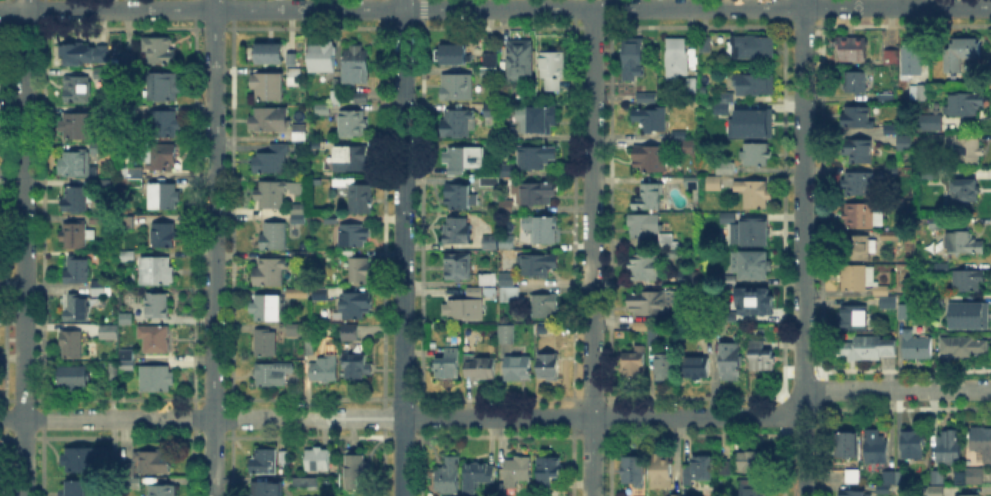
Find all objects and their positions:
road: (403, 4)
road: (743, 8)
road: (201, 9)
road: (449, 9)
building: (705, 43)
building: (753, 49)
building: (853, 50)
building: (158, 51)
building: (83, 54)
building: (961, 54)
building: (270, 55)
building: (454, 56)
building: (677, 57)
building: (292, 58)
building: (322, 58)
building: (491, 58)
building: (632, 58)
building: (519, 59)
building: (128, 60)
building: (892, 61)
building: (912, 61)
building: (359, 62)
building: (553, 71)
building: (488, 72)
building: (102, 76)
building: (294, 76)
building: (690, 83)
building: (856, 83)
building: (755, 85)
building: (165, 88)
building: (457, 88)
building: (268, 89)
building: (78, 91)
building: (515, 91)
building: (918, 92)
building: (335, 93)
building: (646, 97)
building: (726, 98)
building: (362, 100)
building: (965, 105)
building: (102, 109)
building: (726, 110)
building: (489, 111)
building: (324, 112)
building: (858, 118)
building: (538, 120)
building: (652, 120)
building: (270, 121)
building: (164, 123)
building: (752, 123)
building: (353, 124)
building: (929, 124)
building: (459, 126)
building: (77, 127)
building: (891, 129)
building: (679, 134)
building: (506, 136)
building: (300, 137)
building: (936, 141)
building: (904, 144)
building: (687, 146)
building: (860, 151)
building: (968, 154)
building: (757, 155)
building: (536, 158)
building: (162, 159)
building: (351, 159)
building: (650, 160)
building: (462, 161)
building: (273, 162)
building: (77, 163)
building: (725, 168)
building: (891, 170)
building: (134, 177)
building: (496, 179)
building: (342, 182)
building: (690, 182)
building: (714, 185)
building: (860, 185)
building: (105, 186)
building: (965, 191)
building: (536, 193)
building: (753, 194)
building: (272, 196)
building: (165, 198)
building: (461, 199)
building: (648, 199)
building: (78, 201)
building: (361, 201)
building: (504, 208)
building: (298, 211)
building: (862, 216)
building: (728, 218)
building: (299, 219)
building: (99, 221)
building: (645, 226)
building: (542, 230)
building: (458, 232)
building: (757, 235)
building: (73, 236)
building: (166, 237)
building: (353, 237)
building: (889, 237)
building: (275, 238)
building: (668, 239)
building: (487, 240)
building: (967, 242)
building: (496, 244)
road: (24, 247)
road: (213, 247)
road: (803, 248)
building: (861, 248)
road: (591, 251)
road: (403, 252)
building: (676, 254)
building: (300, 256)
building: (130, 258)
building: (539, 266)
building: (758, 267)
building: (74, 269)
building: (460, 269)
building: (645, 269)
building: (360, 272)
building: (158, 273)
building: (270, 276)
building: (506, 278)
building: (686, 278)
building: (489, 279)
building: (730, 279)
building: (857, 279)
building: (968, 280)
building: (100, 290)
building: (882, 292)
building: (482, 293)
building: (510, 294)
building: (320, 296)
building: (754, 301)
building: (651, 303)
building: (889, 304)
building: (939, 304)
building: (157, 306)
building: (354, 306)
building: (547, 307)
building: (464, 309)
building: (76, 310)
building: (266, 310)
building: (903, 312)
building: (972, 316)
building: (729, 317)
building: (855, 319)
building: (542, 329)
building: (294, 333)
building: (350, 334)
building: (506, 334)
building: (110, 335)
building: (653, 337)
building: (156, 340)
building: (266, 344)
building: (74, 345)
building: (310, 346)
building: (890, 346)
building: (369, 347)
building: (963, 347)
building: (916, 348)
building: (868, 349)
road: (12, 357)
building: (761, 358)
building: (128, 361)
building: (730, 362)
building: (635, 363)
building: (447, 366)
building: (549, 366)
building: (666, 366)
building: (482, 367)
building: (519, 368)
building: (355, 369)
building: (698, 369)
building: (325, 371)
building: (73, 377)
building: (270, 379)
building: (157, 380)
road: (498, 417)
building: (981, 444)
building: (847, 446)
building: (915, 446)
building: (950, 447)
building: (876, 451)
building: (267, 459)
building: (319, 461)
building: (81, 462)
building: (154, 463)
building: (753, 463)
building: (727, 466)
building: (550, 470)
building: (357, 471)
building: (517, 471)
building: (697, 471)
building: (663, 472)
building: (634, 474)
building: (449, 477)
building: (478, 477)
building: (853, 477)
building: (938, 477)
building: (889, 478)
building: (901, 478)
building: (975, 478)
building: (136, 484)
building: (307, 485)
building: (78, 489)
building: (750, 489)
building: (884, 489)
building: (270, 490)
building: (163, 491)
building: (935, 491)
building: (853, 494)
building: (965, 494)
building: (450, 495)
building: (642, 495)
building: (674, 495)

